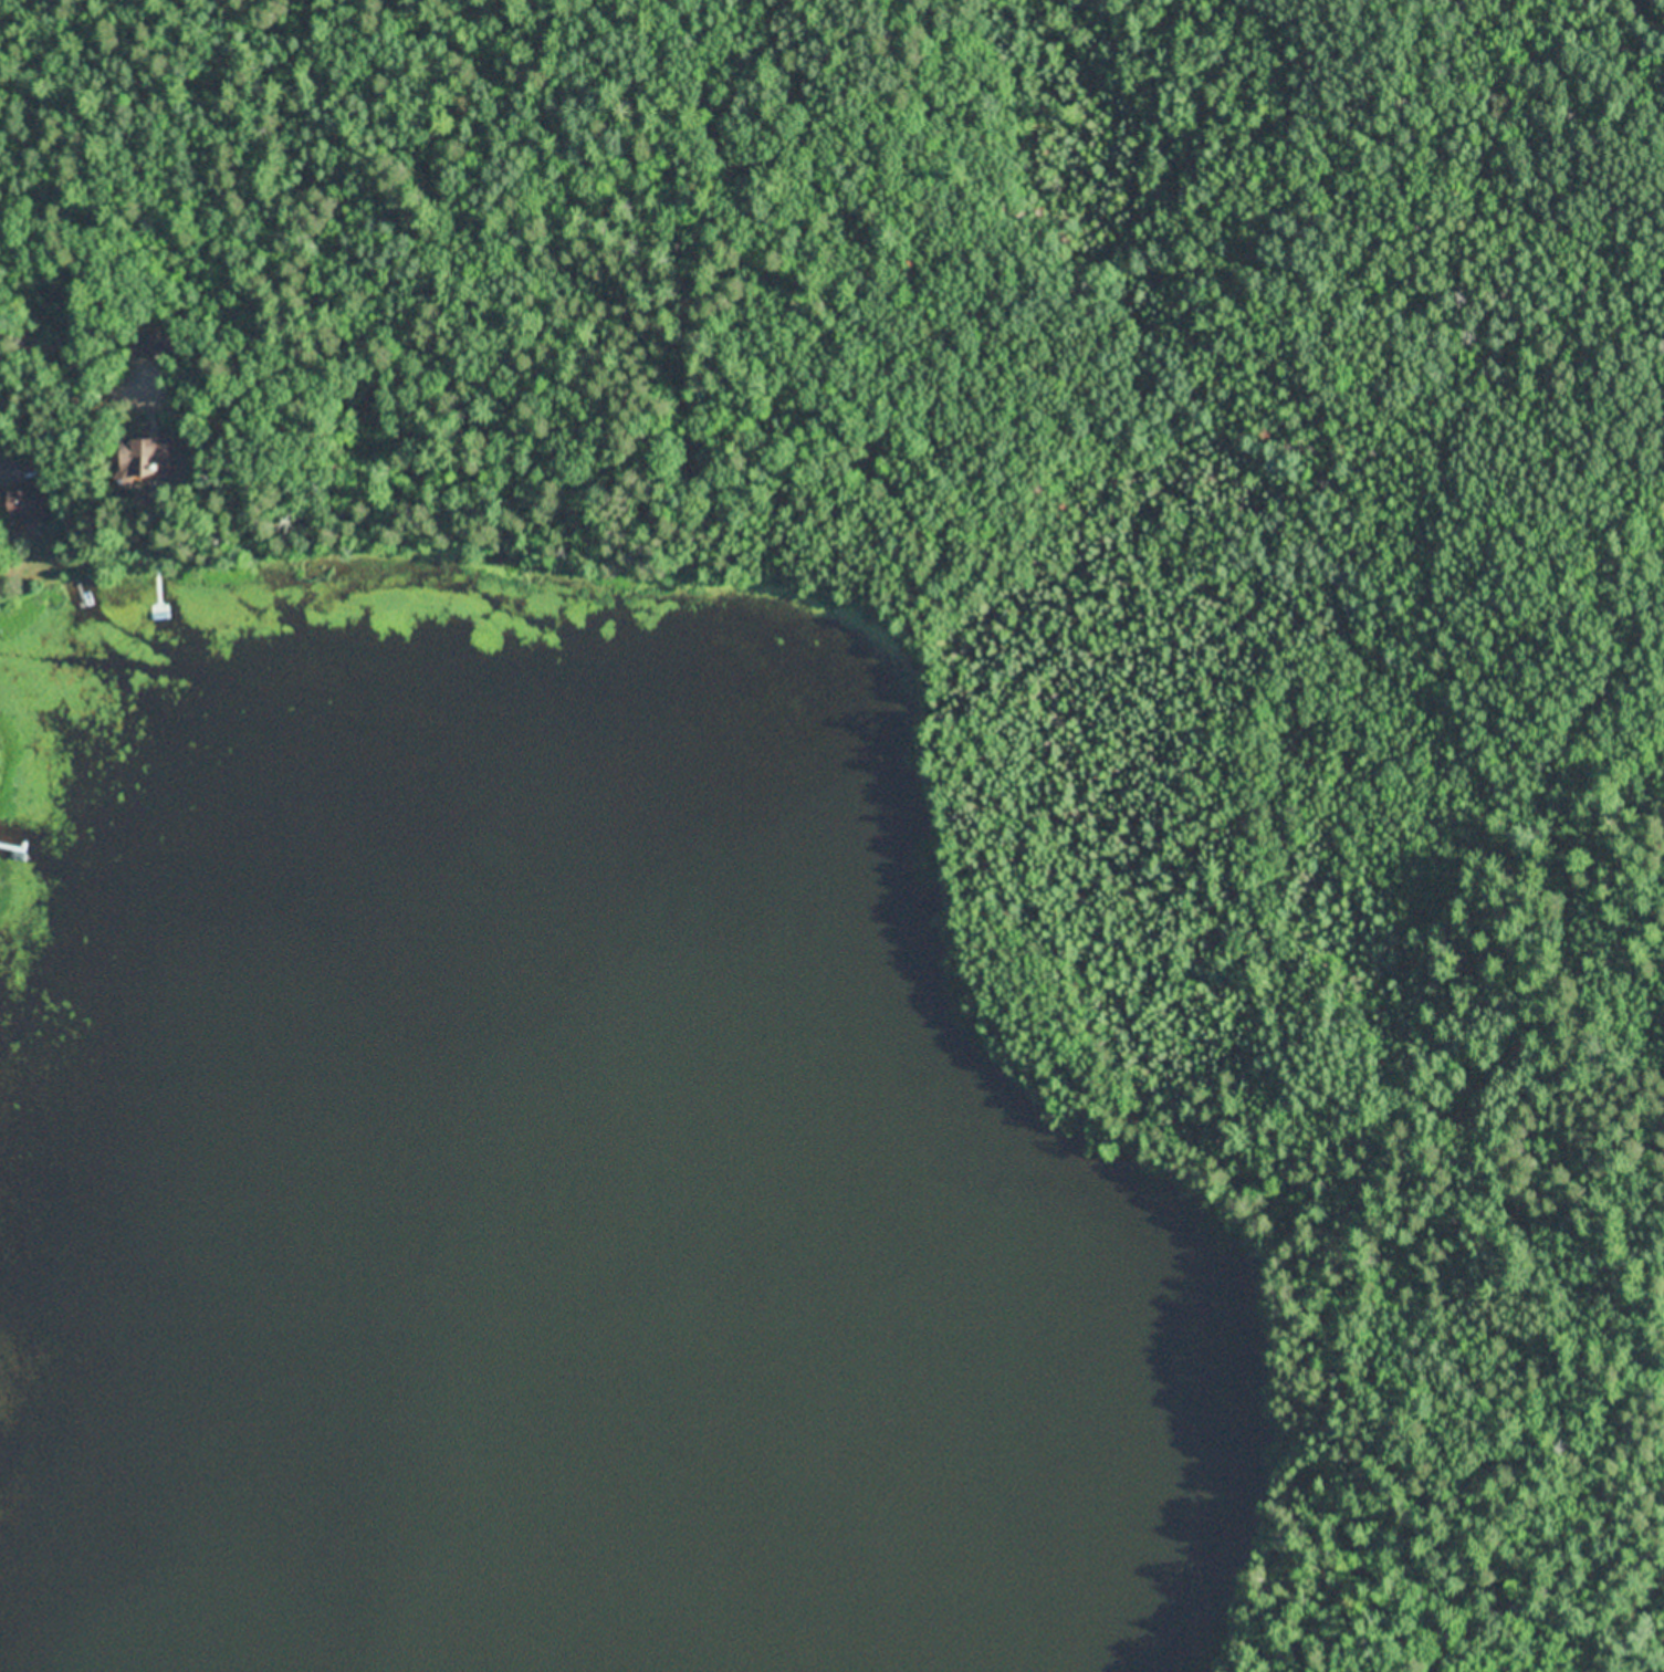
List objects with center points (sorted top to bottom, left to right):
building: (159, 343)
building: (148, 452)
building: (36, 459)
building: (27, 500)

